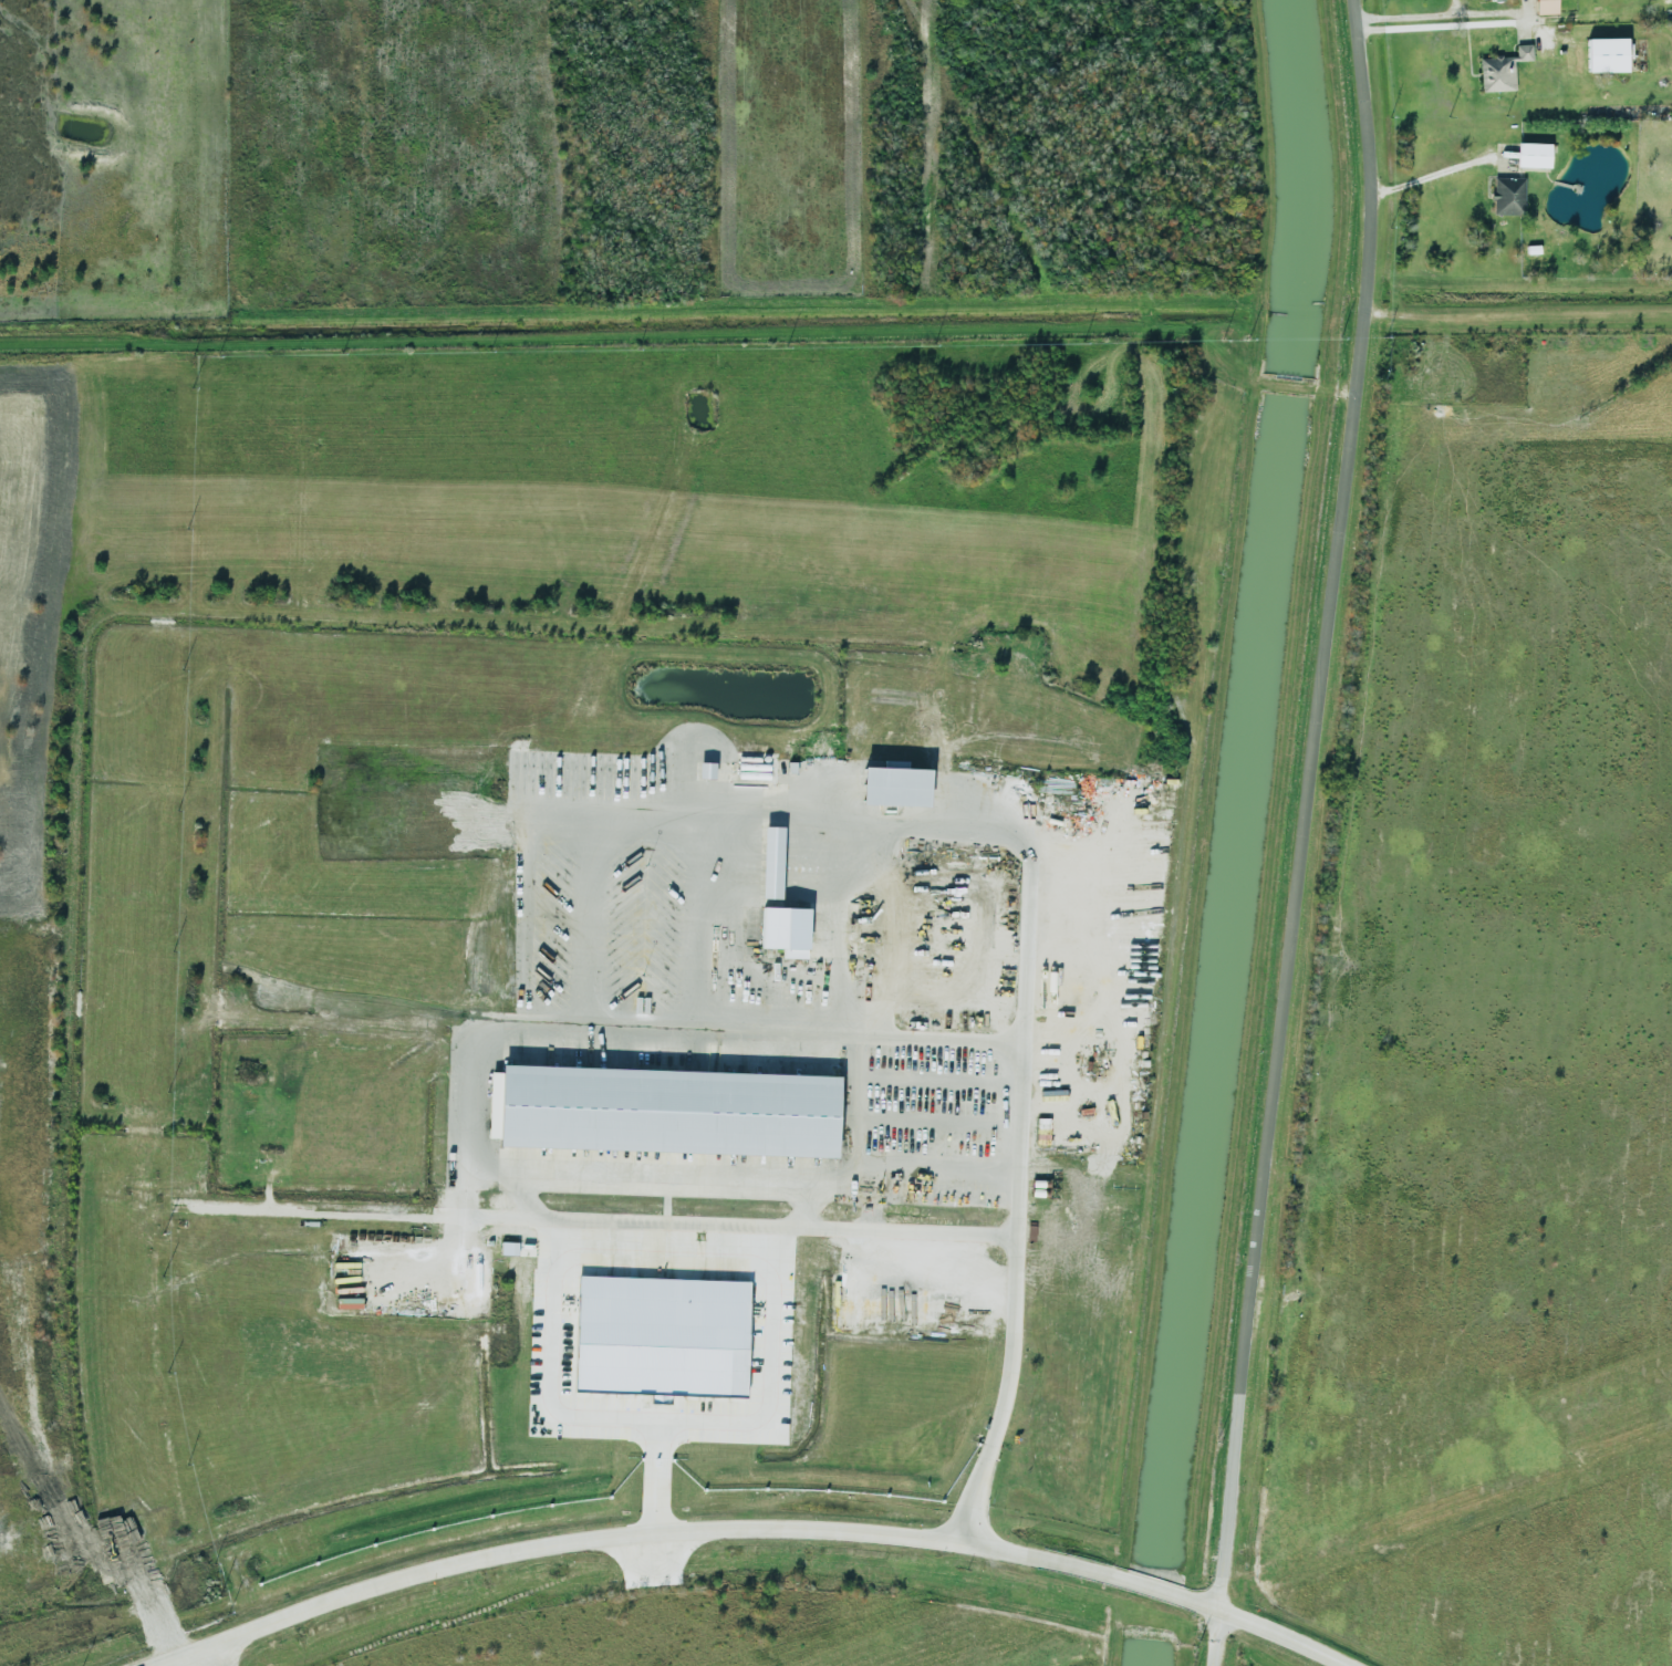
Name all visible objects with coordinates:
building: (1545, 6)
road: (1454, 7)
road: (1433, 14)
road: (1434, 25)
building: (1607, 53)
building: (1500, 69)
building: (1531, 154)
road: (1424, 177)
building: (1507, 195)
road: (1395, 312)
road: (1238, 365)
road: (1289, 385)
road: (1338, 389)
building: (704, 769)
building: (893, 784)
river: (1250, 833)
road: (1307, 833)
building: (770, 861)
building: (785, 929)
road: (472, 1105)
road: (854, 1106)
building: (663, 1110)
road: (520, 1195)
road: (875, 1199)
road: (1306, 1200)
road: (802, 1205)
road: (1017, 1209)
road: (726, 1228)
building: (508, 1247)
building: (657, 1340)
road: (548, 1368)
road: (745, 1420)
road: (623, 1533)
road: (1146, 1585)
road: (1261, 1629)

